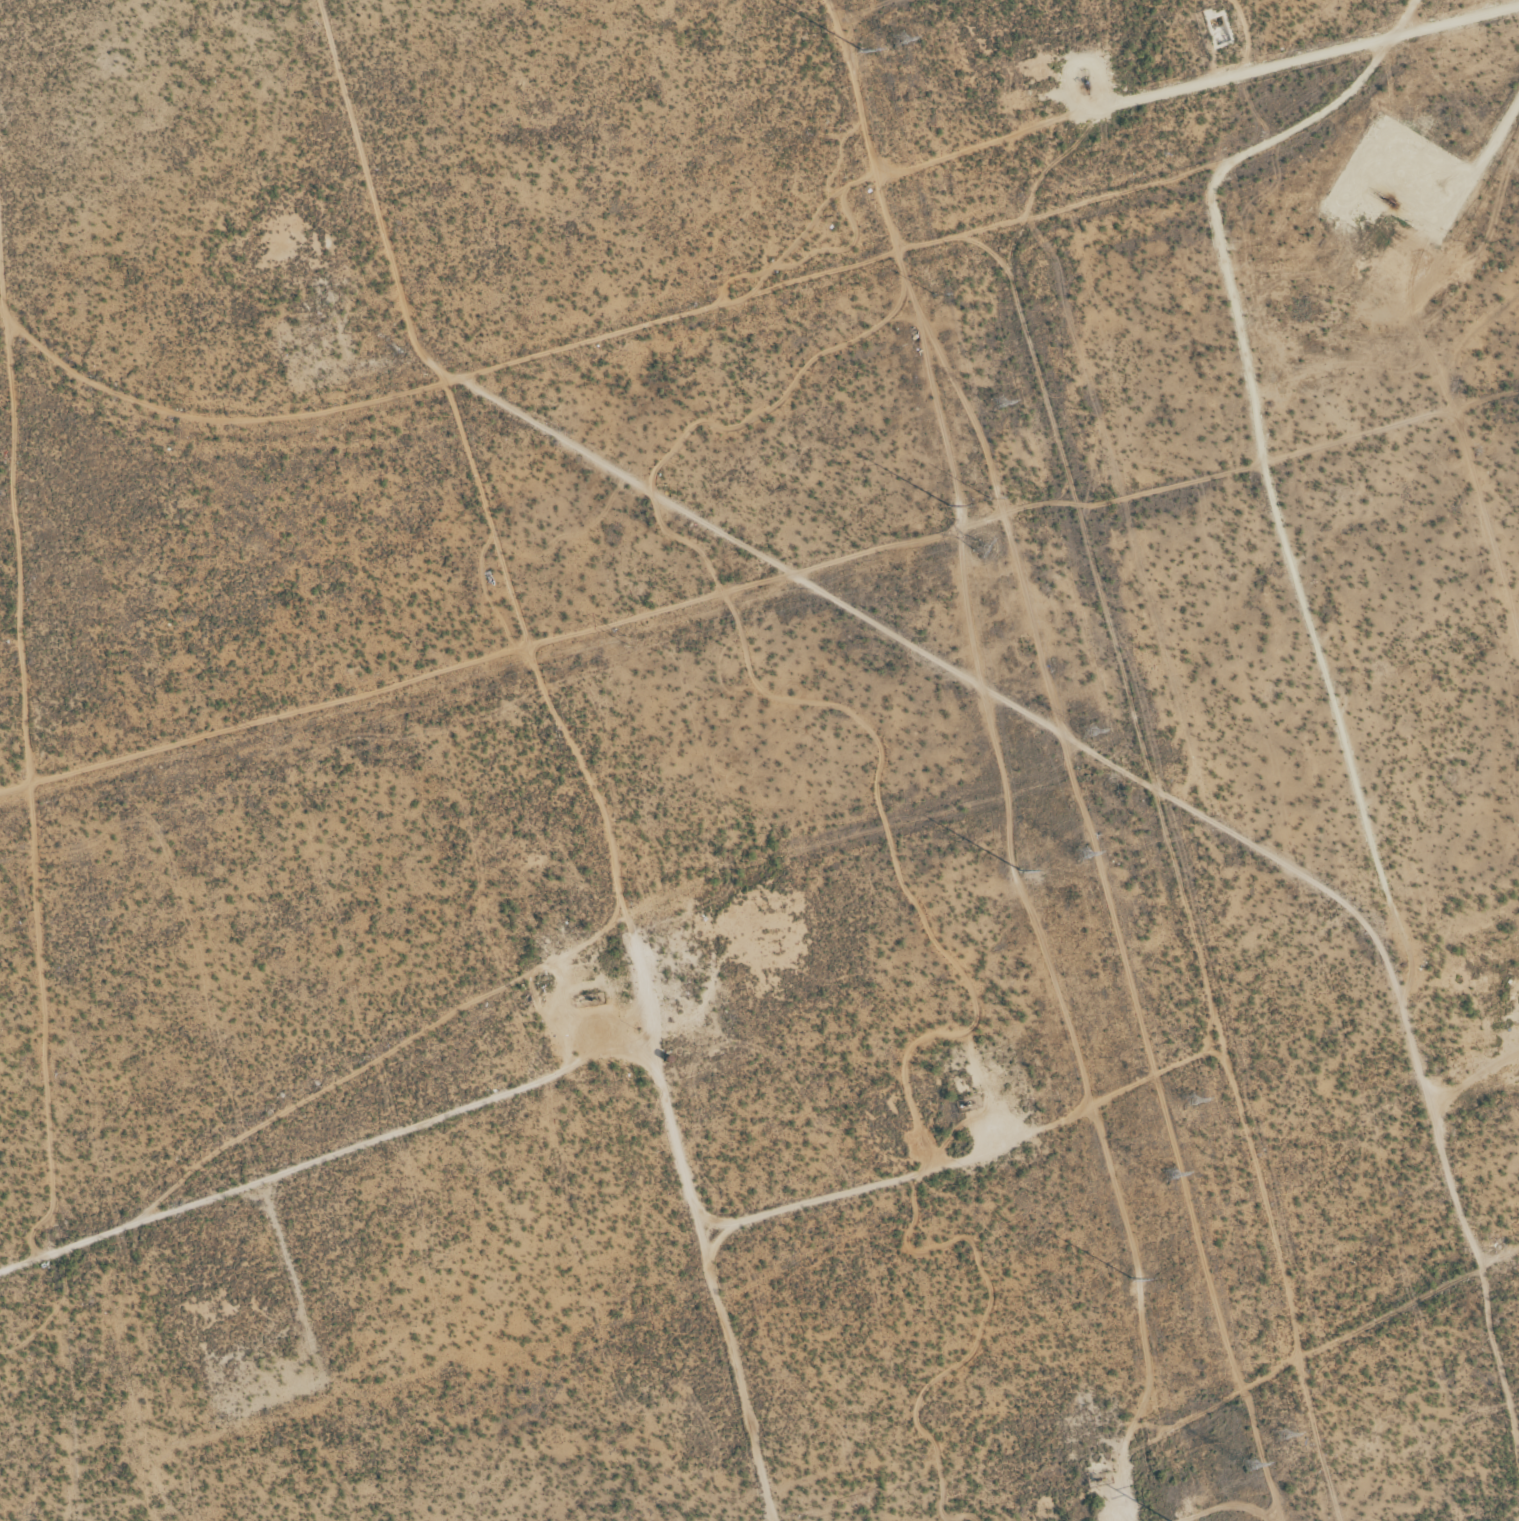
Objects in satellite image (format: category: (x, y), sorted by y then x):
power tower: (896, 40)
power tower: (858, 50)
power tower: (932, 295)
power tower: (996, 403)
power tower: (988, 502)
power tower: (946, 509)
power tower: (981, 549)
power tower: (895, 571)
power tower: (626, 641)
power tower: (1085, 733)
power tower: (266, 742)
power tower: (1080, 854)
power tower: (1018, 873)
power tower: (1182, 1102)
power tower: (1168, 1176)
power tower: (1129, 1280)
power tower: (1278, 1437)
power tower: (1248, 1468)

